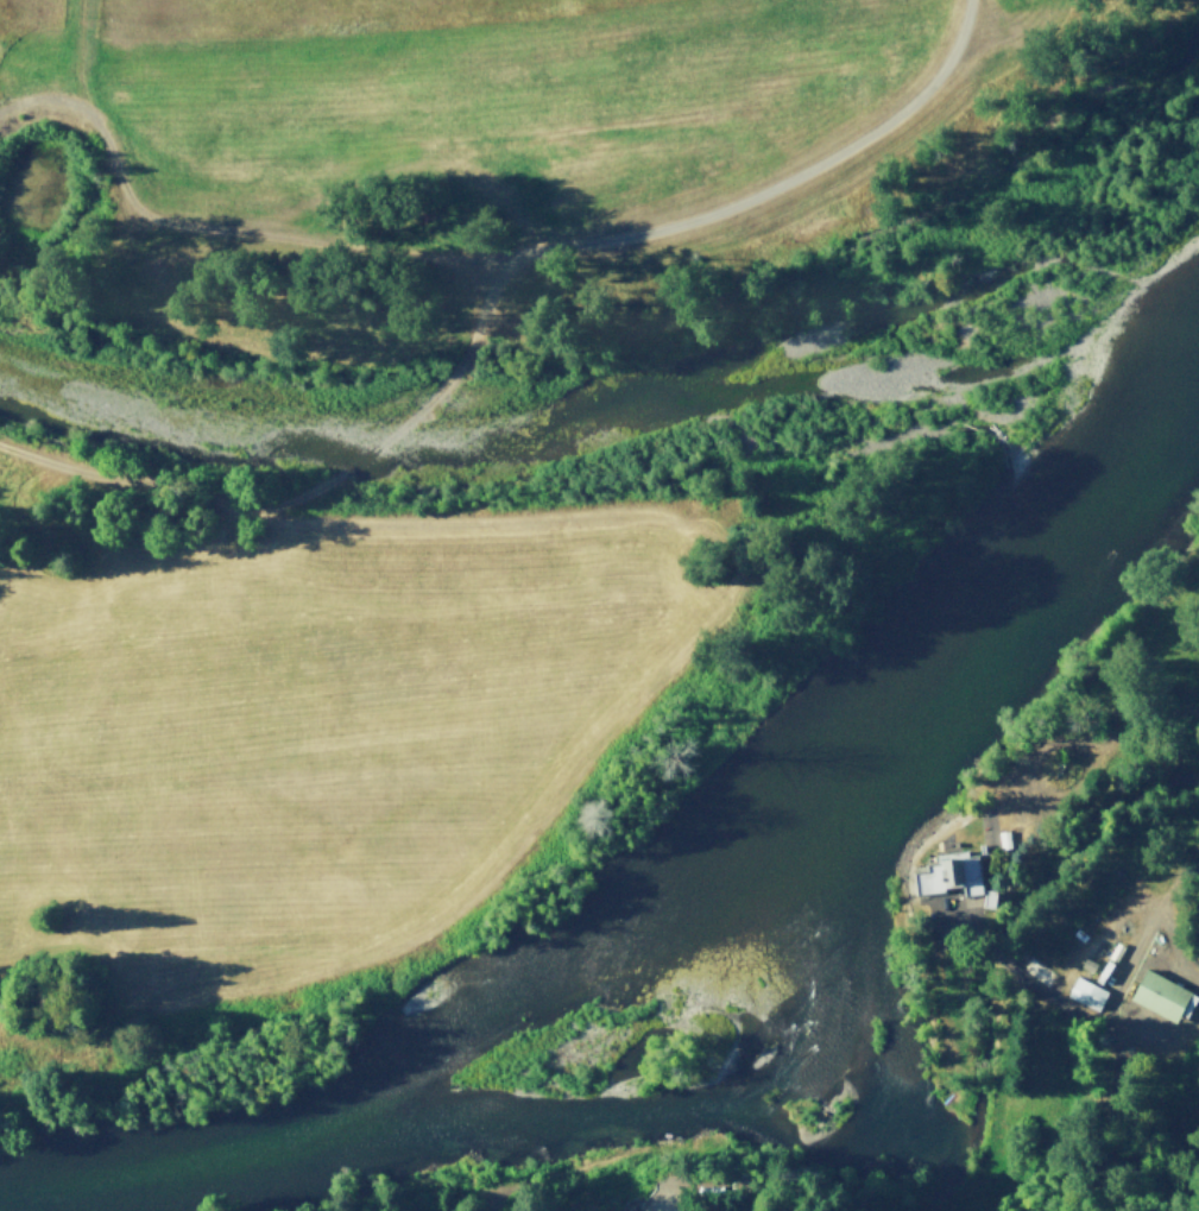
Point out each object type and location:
river: (604, 396)
building: (1004, 837)
building: (953, 871)
river: (675, 883)
building: (1088, 991)
building: (1163, 994)
river: (800, 1123)

